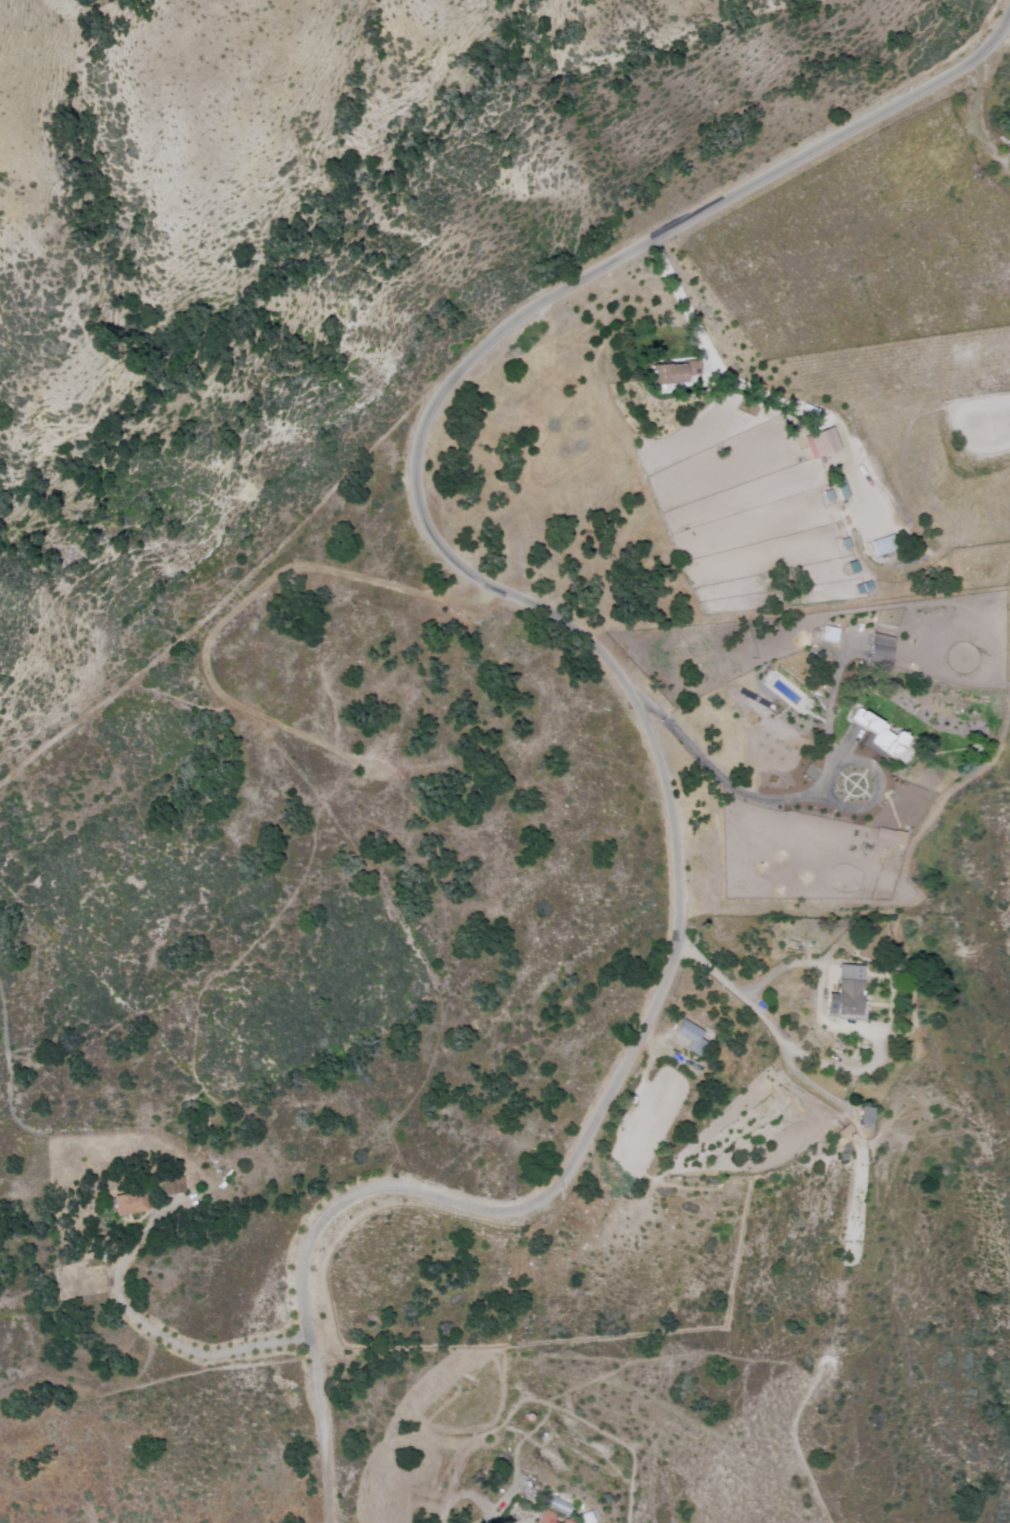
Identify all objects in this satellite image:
building: (688, 367)
building: (663, 373)
building: (818, 442)
building: (878, 545)
road: (573, 623)
building: (827, 634)
building: (876, 648)
building: (875, 731)
building: (888, 836)
building: (844, 991)
building: (689, 1037)
building: (862, 1116)
building: (125, 1203)
road: (326, 1438)
building: (544, 1517)
building: (565, 1521)

